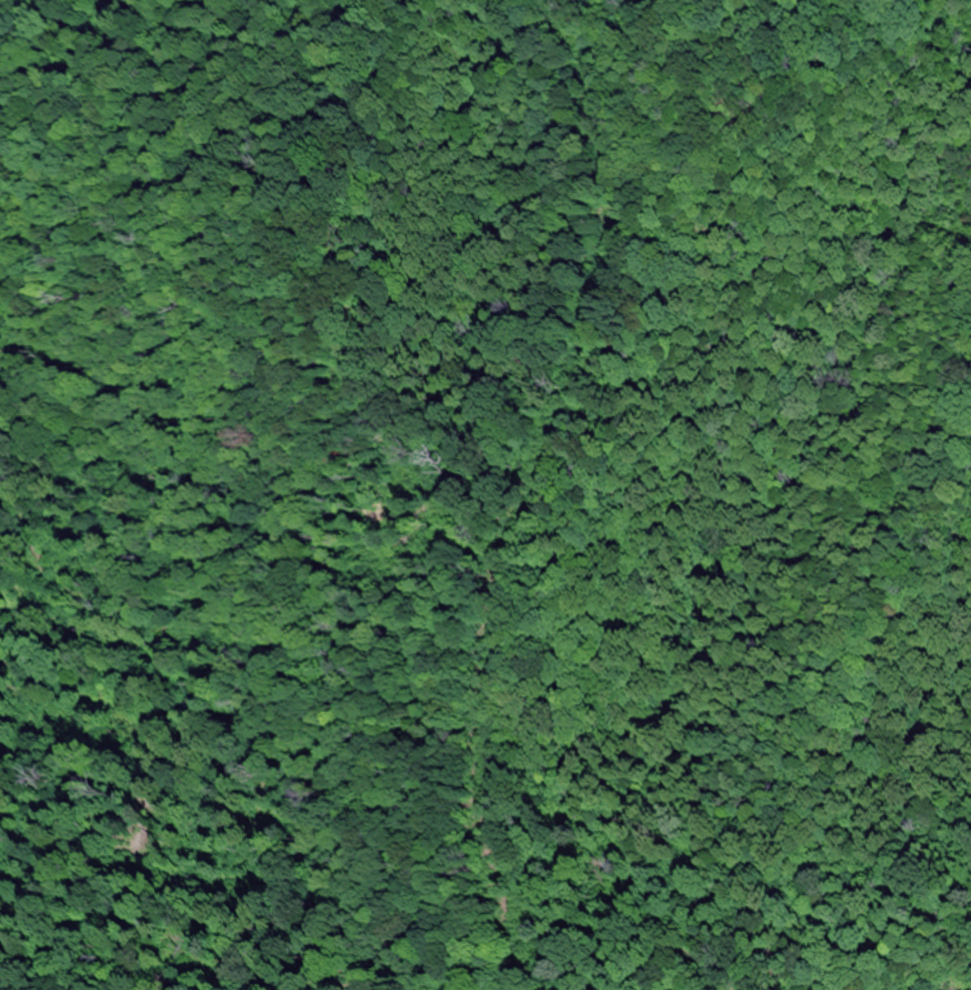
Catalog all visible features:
road: (38, 27)

